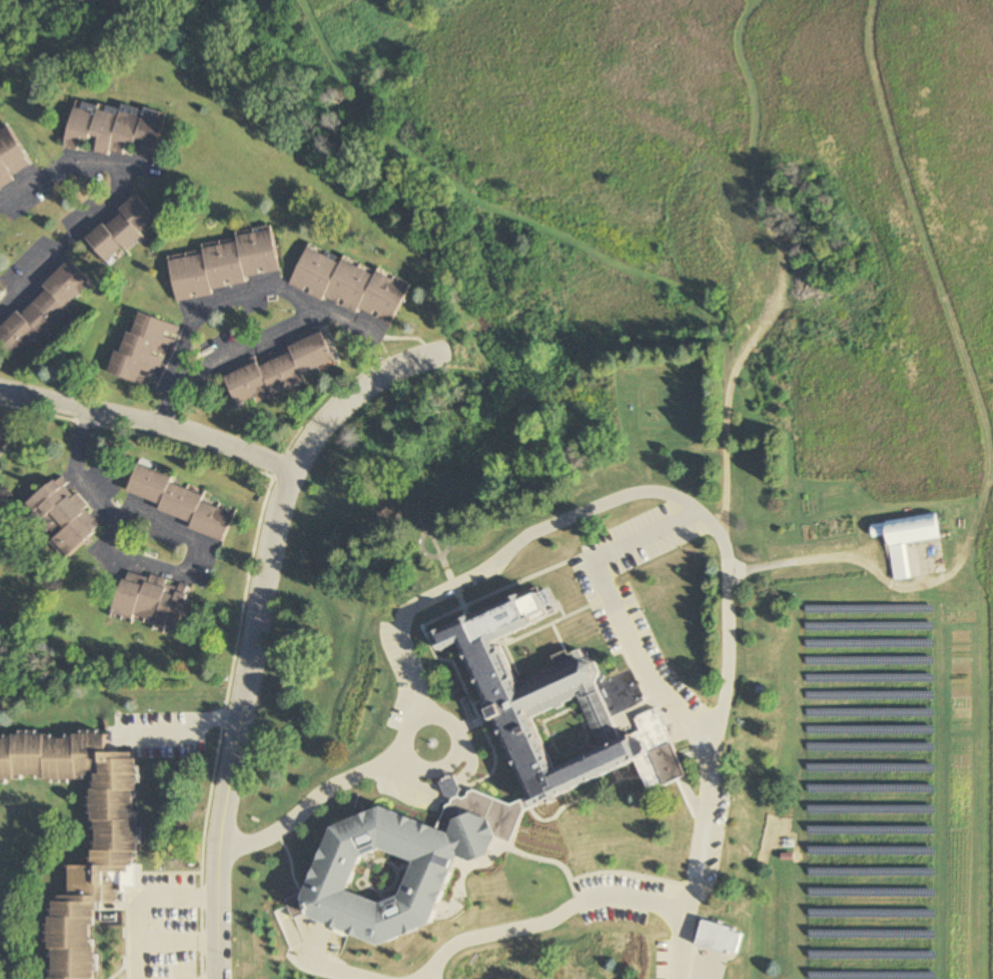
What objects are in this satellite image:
building: (115, 129)
building: (11, 158)
road: (69, 161)
road: (59, 230)
building: (120, 230)
building: (222, 265)
building: (351, 285)
road: (262, 288)
building: (42, 309)
building: (143, 351)
building: (276, 370)
road: (349, 395)
road: (146, 424)
building: (2, 433)
building: (184, 504)
building: (63, 515)
road: (154, 529)
building: (906, 538)
road: (839, 556)
road: (431, 590)
building: (153, 601)
road: (614, 615)
road: (251, 659)
road: (722, 664)
building: (560, 691)
road: (187, 731)
road: (446, 756)
road: (324, 787)
solar farm: (864, 788)
building: (113, 823)
building: (404, 863)
building: (487, 883)
road: (138, 899)
road: (217, 915)
road: (543, 918)
building: (720, 938)
road: (330, 970)

